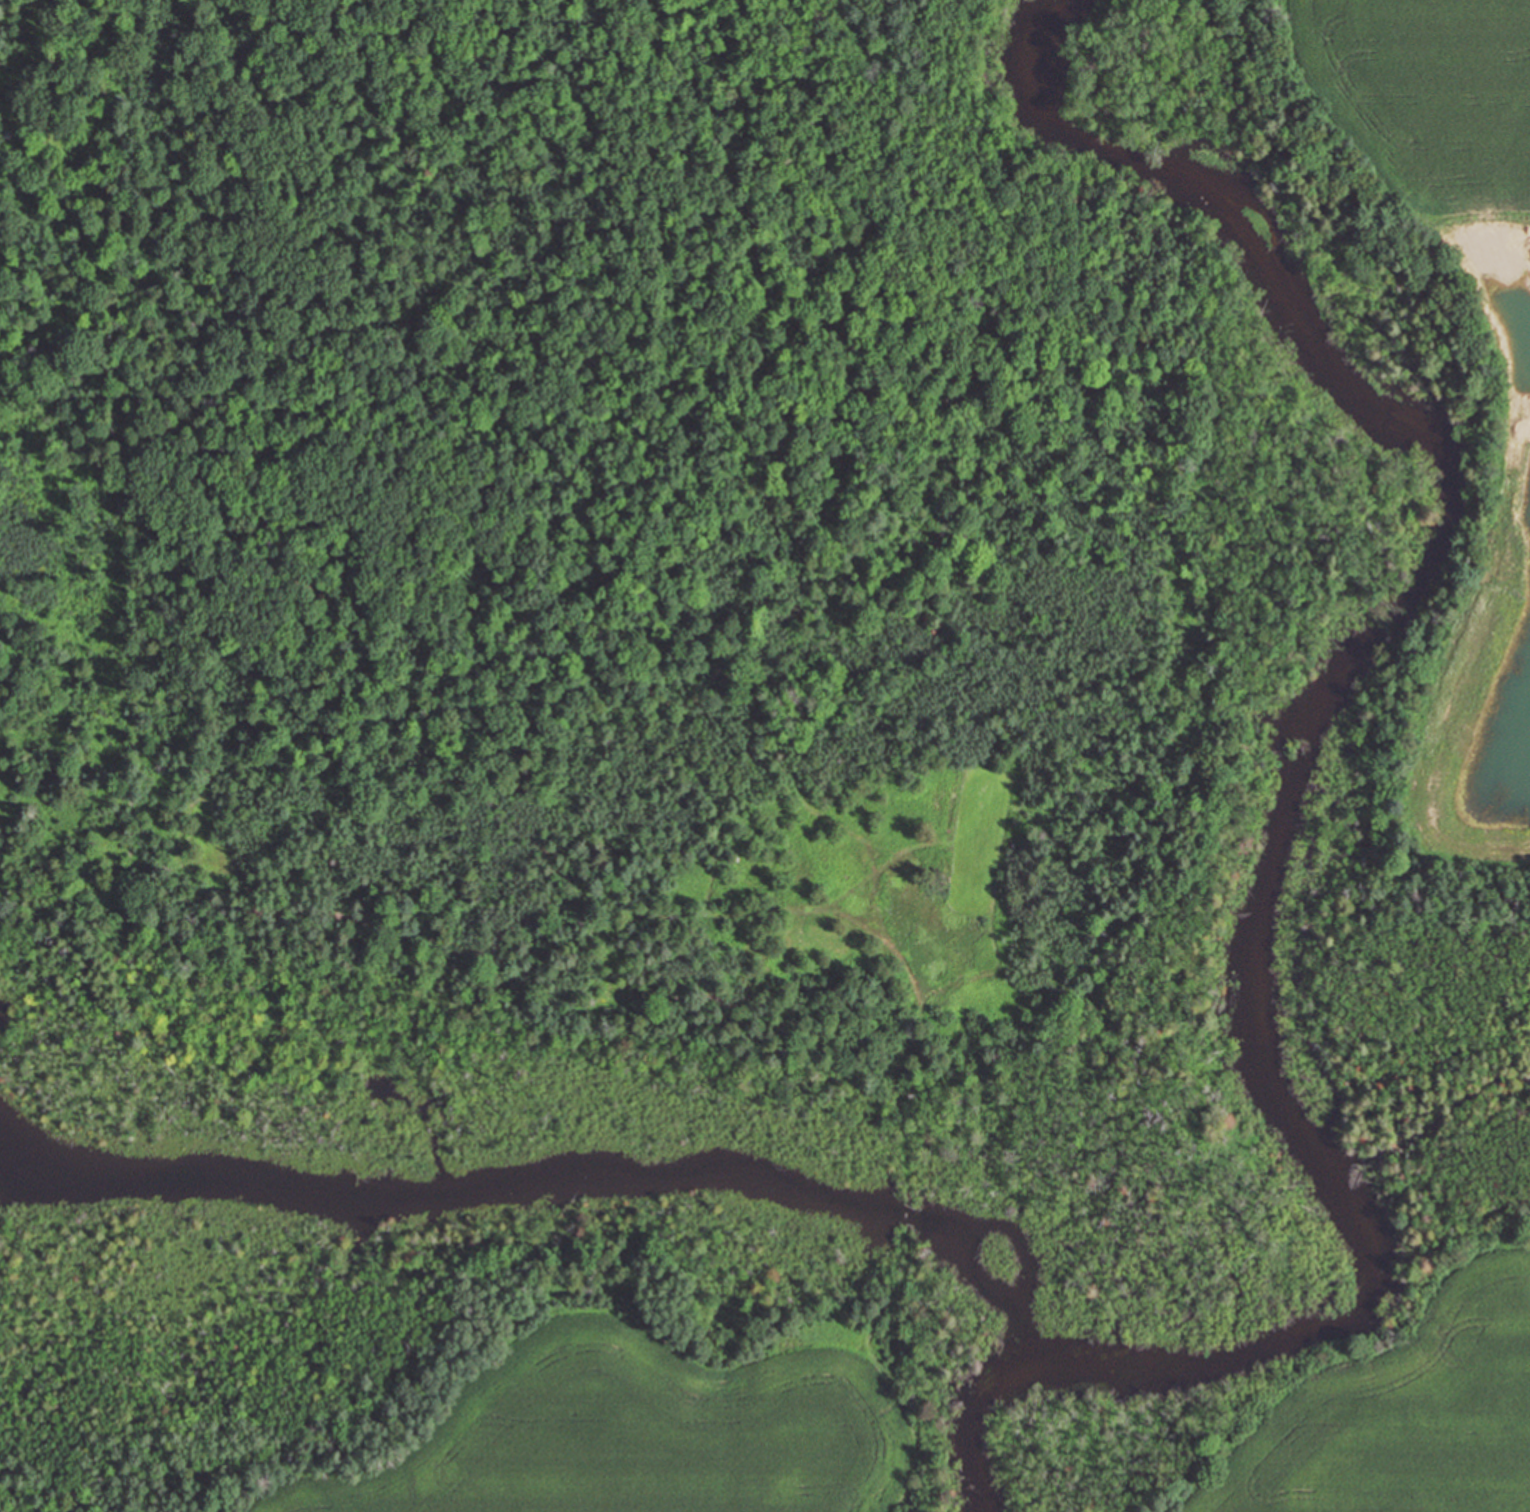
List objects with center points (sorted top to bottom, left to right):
quarry: (828, 756)
river: (1289, 796)

